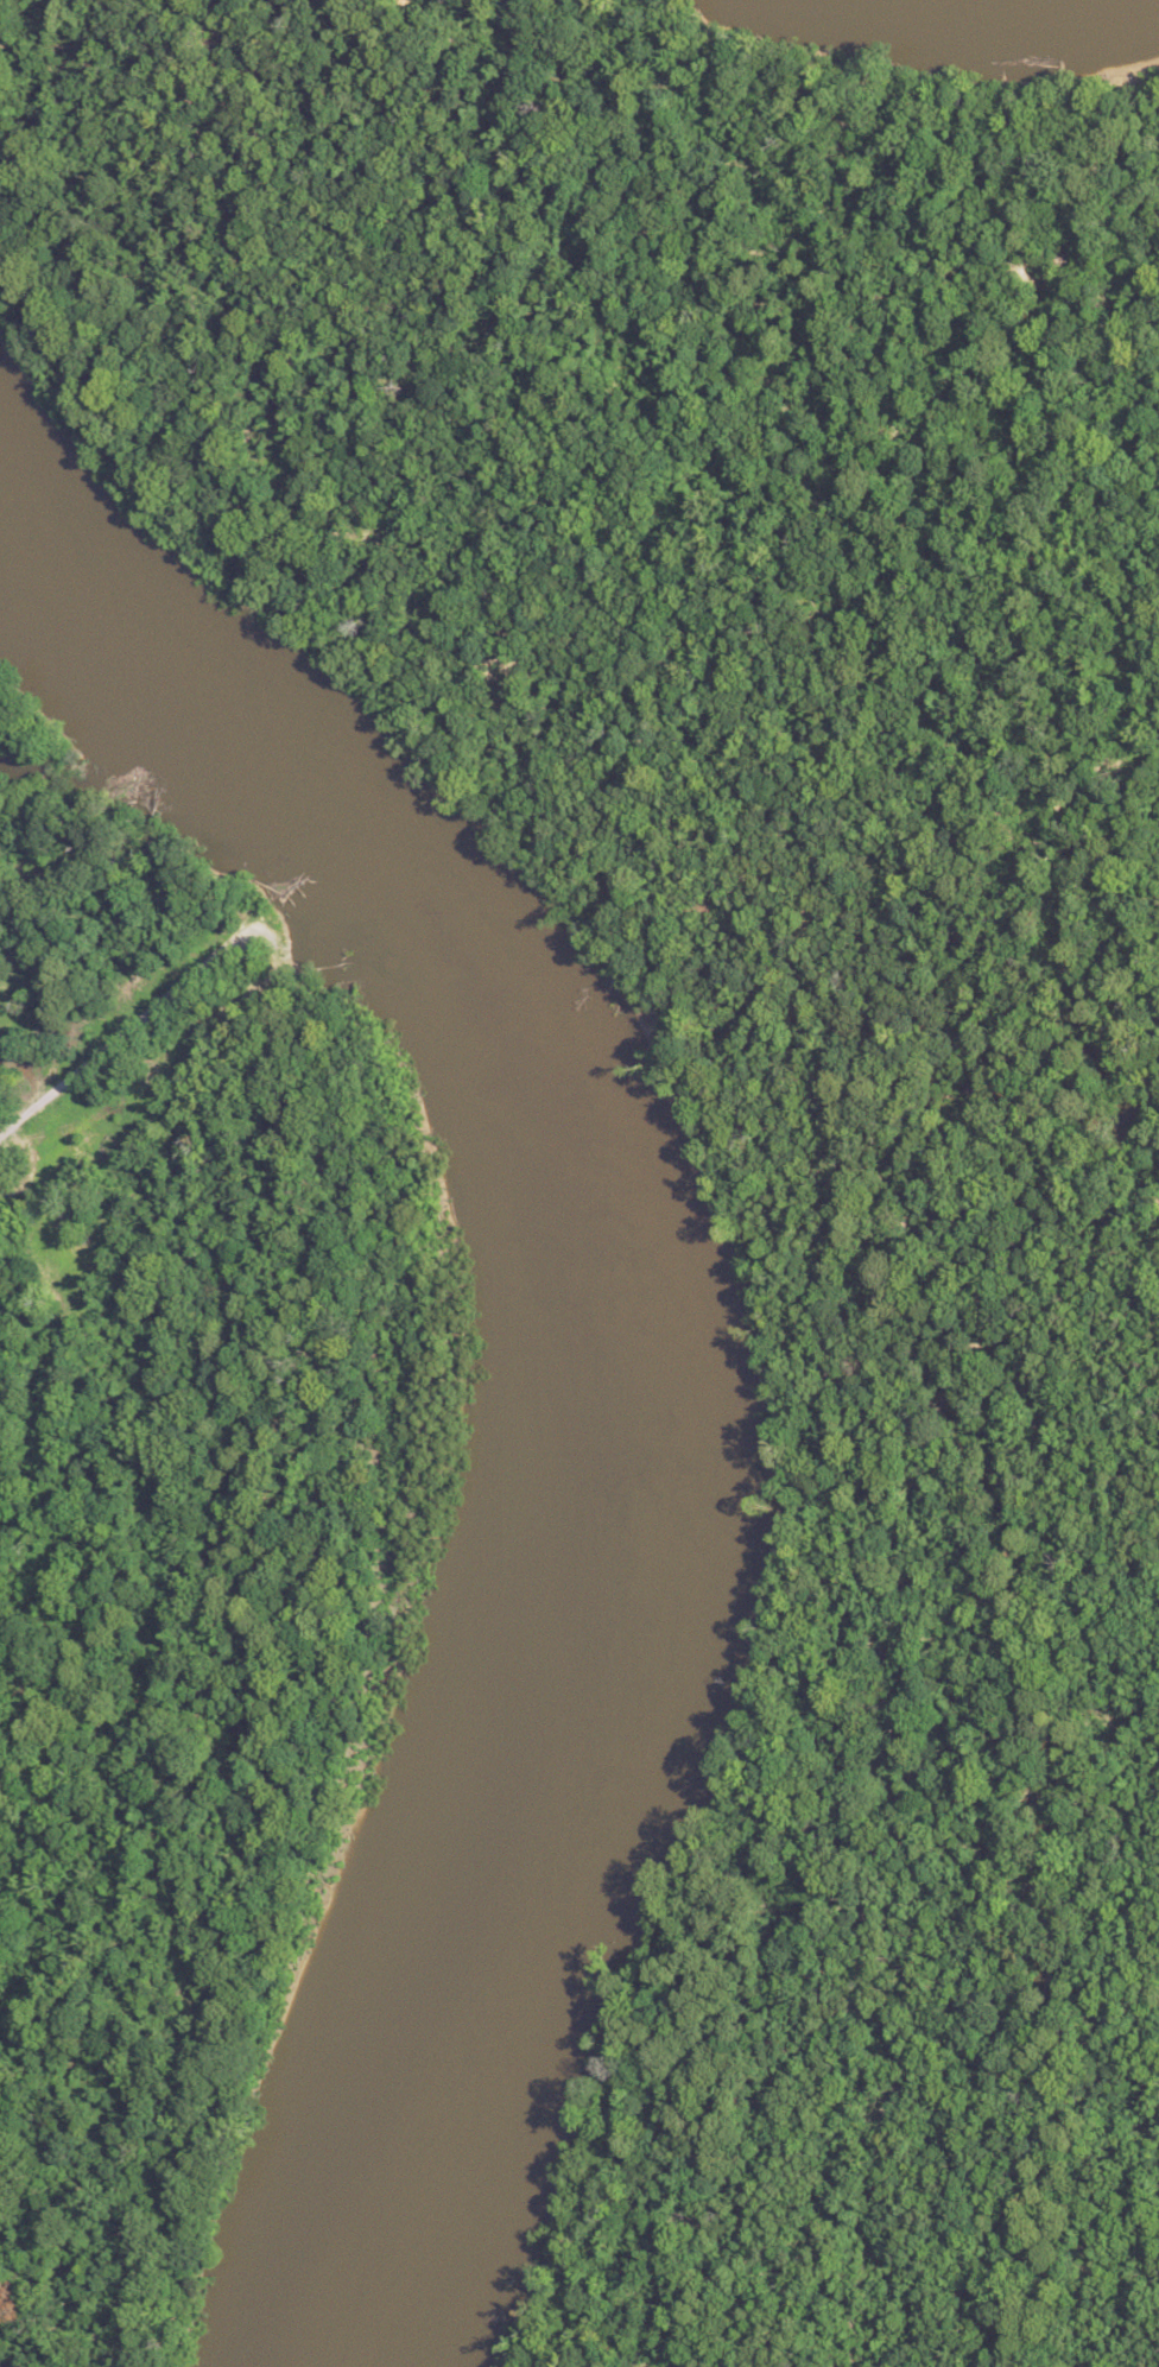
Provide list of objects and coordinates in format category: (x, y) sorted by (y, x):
road: (99, 1051)
river: (490, 1352)

